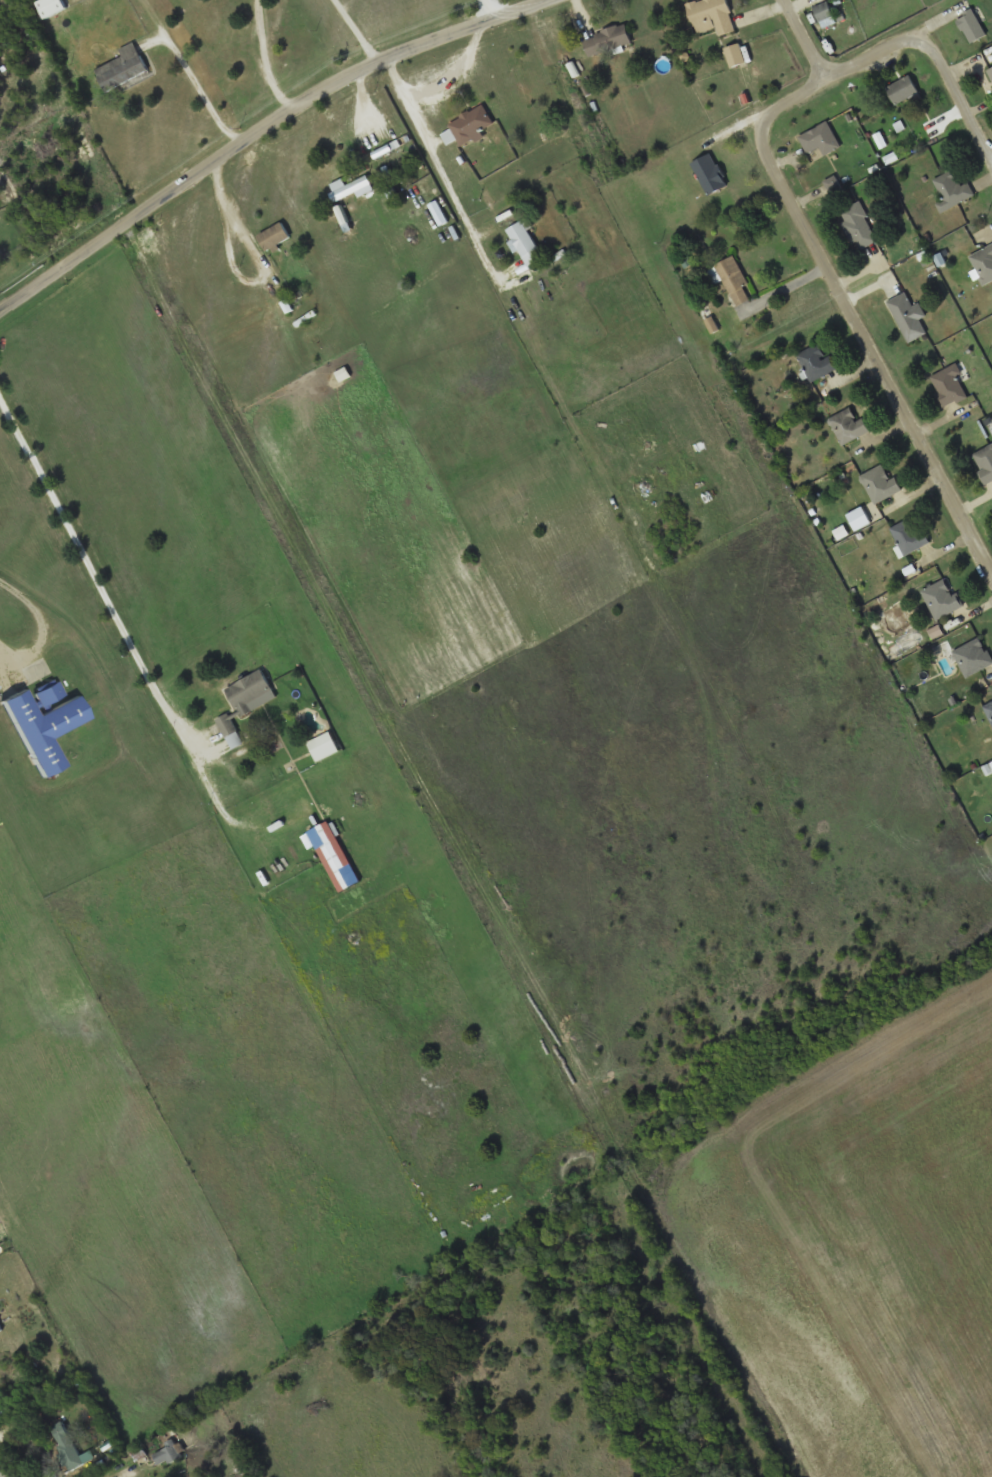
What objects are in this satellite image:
building: (50, 8)
building: (825, 10)
building: (711, 16)
building: (972, 26)
building: (607, 39)
road: (806, 40)
building: (735, 55)
building: (124, 67)
building: (990, 71)
building: (903, 89)
road: (264, 124)
building: (468, 126)
building: (821, 139)
road: (419, 156)
building: (709, 174)
building: (350, 188)
building: (953, 191)
road: (793, 196)
building: (858, 226)
building: (274, 236)
building: (525, 245)
building: (983, 263)
building: (735, 280)
building: (908, 316)
building: (817, 361)
building: (950, 385)
building: (848, 425)
building: (985, 463)
building: (880, 484)
building: (910, 534)
road: (95, 582)
building: (942, 598)
road: (41, 625)
building: (974, 656)
building: (249, 691)
building: (51, 693)
building: (989, 709)
building: (47, 727)
building: (231, 730)
building: (323, 746)
building: (334, 856)
building: (1, 1328)
building: (13, 1369)
building: (64, 1436)
building: (167, 1455)
building: (141, 1456)
road: (4, 1467)

